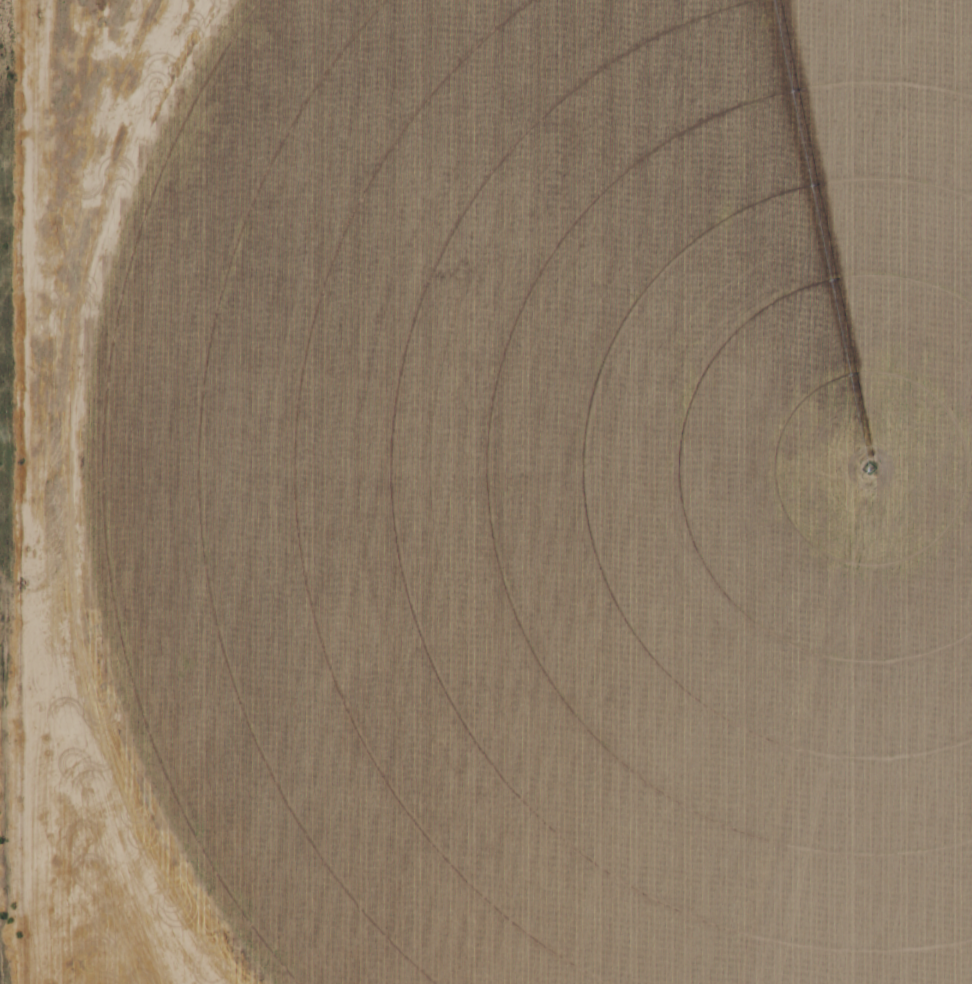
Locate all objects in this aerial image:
crop: (556, 487)

